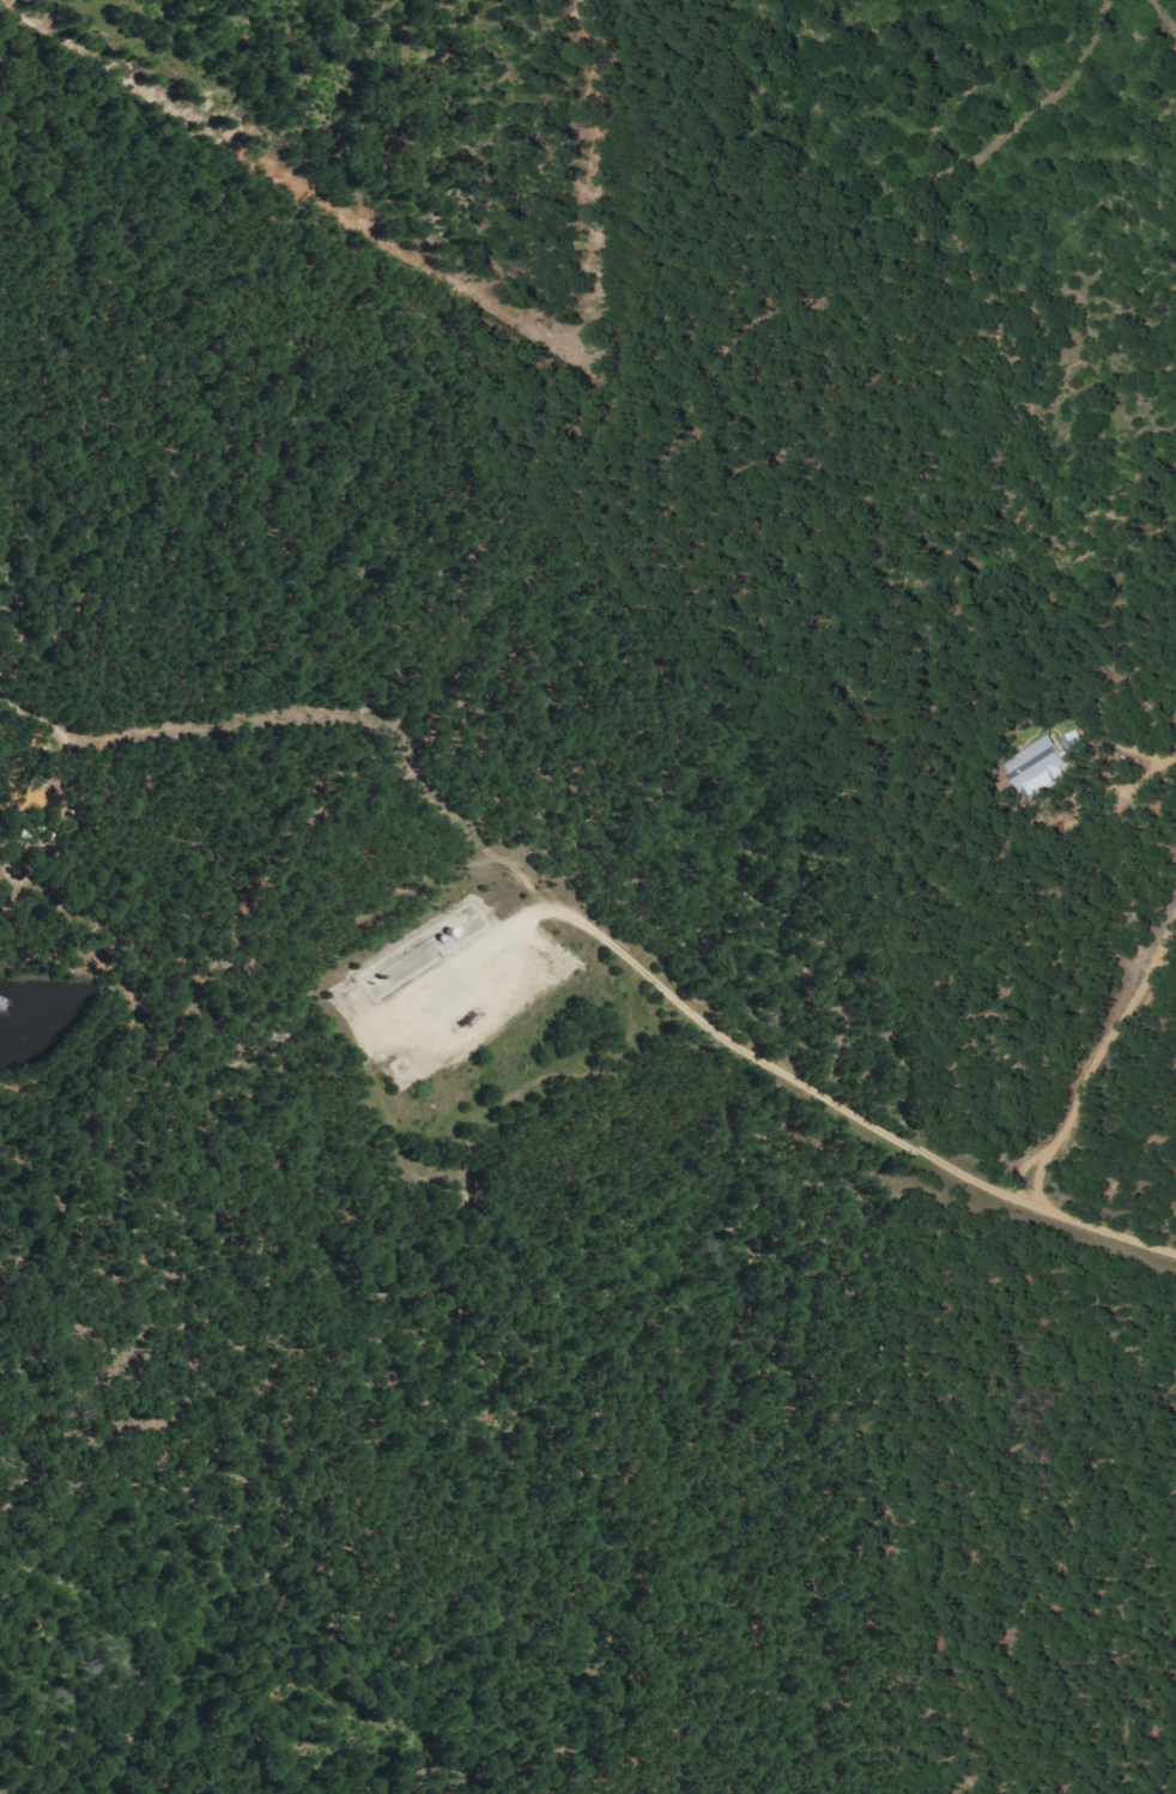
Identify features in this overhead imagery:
building: (1038, 766)
petroleum well: (463, 1017)
road: (794, 1068)

